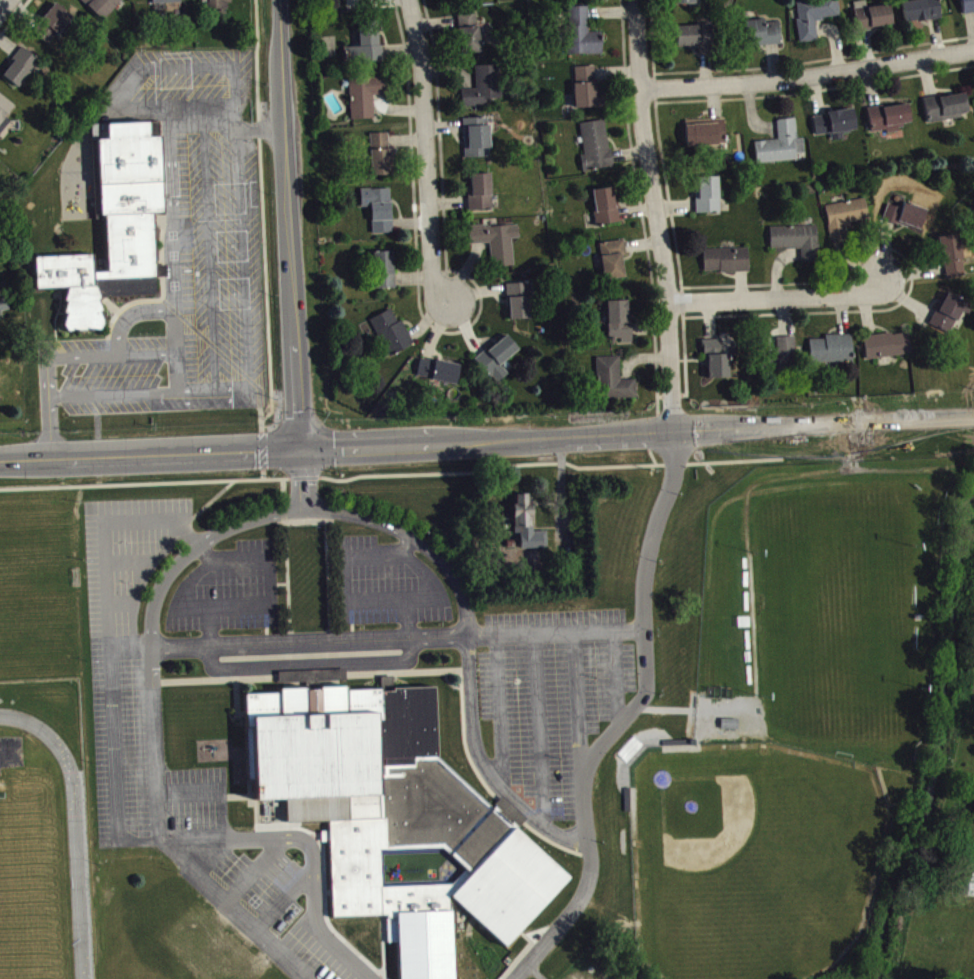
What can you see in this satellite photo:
building: (163, 0)
building: (213, 3)
building: (687, 4)
building: (99, 5)
road: (6, 8)
building: (968, 8)
building: (922, 14)
road: (14, 17)
building: (816, 19)
building: (51, 21)
building: (873, 21)
building: (471, 36)
building: (765, 37)
building: (584, 38)
building: (695, 41)
building: (367, 50)
building: (19, 64)
road: (806, 74)
building: (486, 92)
building: (588, 93)
building: (367, 100)
building: (3, 110)
building: (947, 112)
building: (889, 122)
building: (836, 128)
building: (707, 137)
building: (479, 142)
building: (783, 149)
building: (597, 150)
road: (426, 152)
building: (382, 159)
building: (482, 197)
building: (710, 200)
building: (607, 211)
building: (380, 213)
road: (655, 215)
road: (262, 217)
building: (906, 220)
building: (846, 222)
building: (114, 224)
road: (286, 224)
building: (798, 245)
parking lot: (184, 247)
building: (498, 247)
building: (952, 261)
building: (615, 264)
building: (728, 265)
building: (386, 274)
road: (779, 297)
road: (173, 300)
building: (3, 303)
building: (520, 306)
building: (4, 311)
road: (129, 314)
building: (947, 318)
building: (621, 326)
building: (393, 337)
building: (888, 350)
building: (832, 353)
building: (785, 360)
building: (499, 363)
building: (717, 365)
building: (440, 375)
building: (614, 385)
road: (486, 439)
traffic signals: (298, 449)
road: (301, 478)
building: (528, 529)
road: (414, 539)
road: (197, 546)
road: (347, 579)
parking lot: (387, 582)
road: (432, 593)
road: (256, 605)
park: (835, 615)
road: (211, 626)
road: (554, 631)
road: (308, 641)
road: (108, 645)
road: (644, 647)
road: (130, 648)
road: (615, 677)
parking lot: (550, 694)
parking lot: (119, 699)
road: (578, 704)
road: (498, 711)
road: (538, 728)
building: (330, 743)
road: (484, 765)
road: (221, 813)
building: (466, 842)
road: (163, 843)
road: (216, 855)
park: (753, 857)
road: (252, 868)
road: (358, 876)
track: (77, 884)
road: (291, 890)
road: (321, 916)
road: (564, 917)
road: (354, 941)
road: (397, 955)

